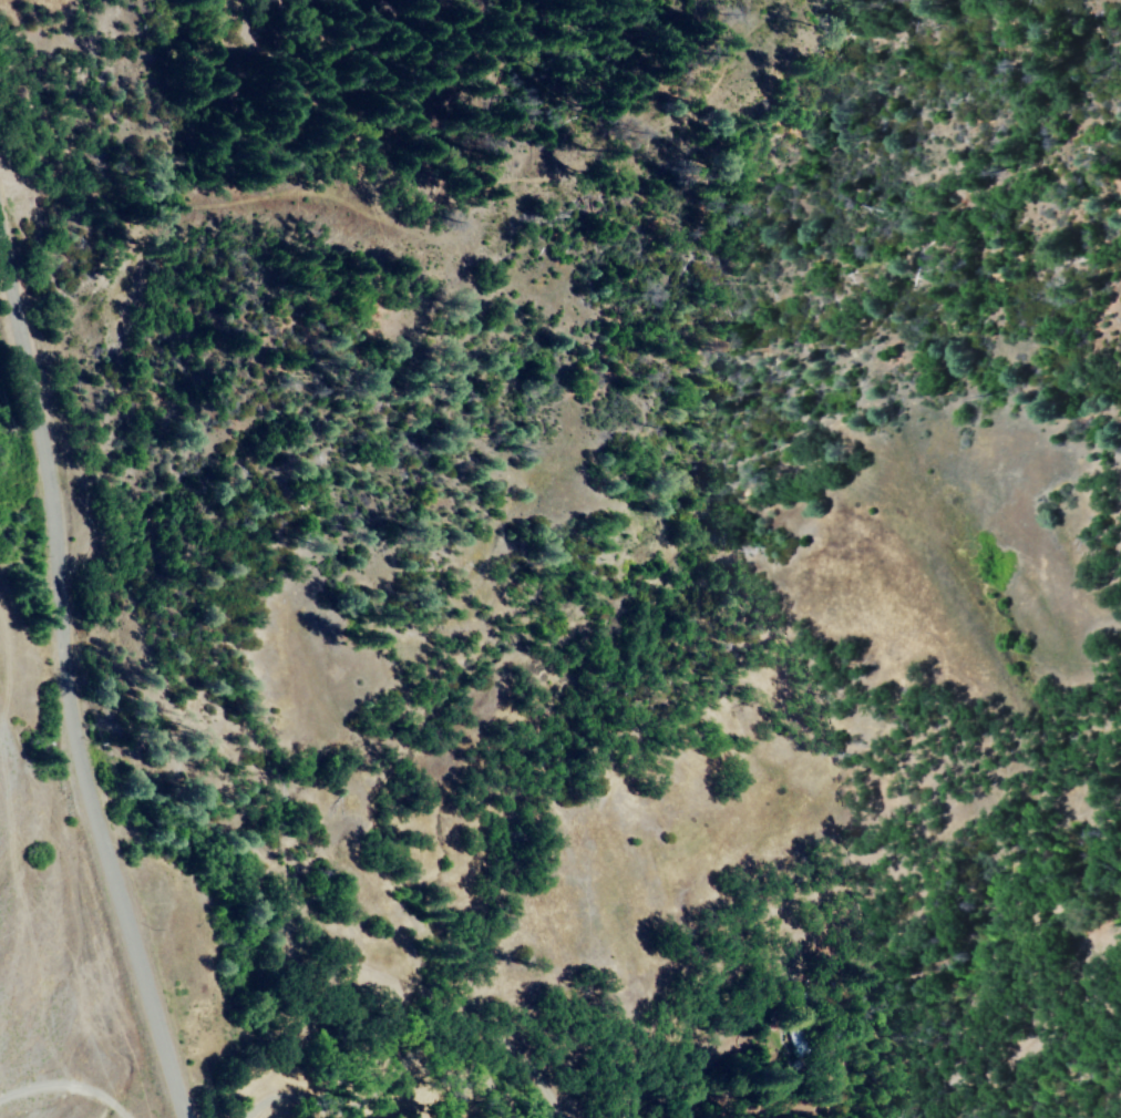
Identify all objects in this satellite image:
road: (89, 704)
road: (381, 1079)
road: (54, 1097)

